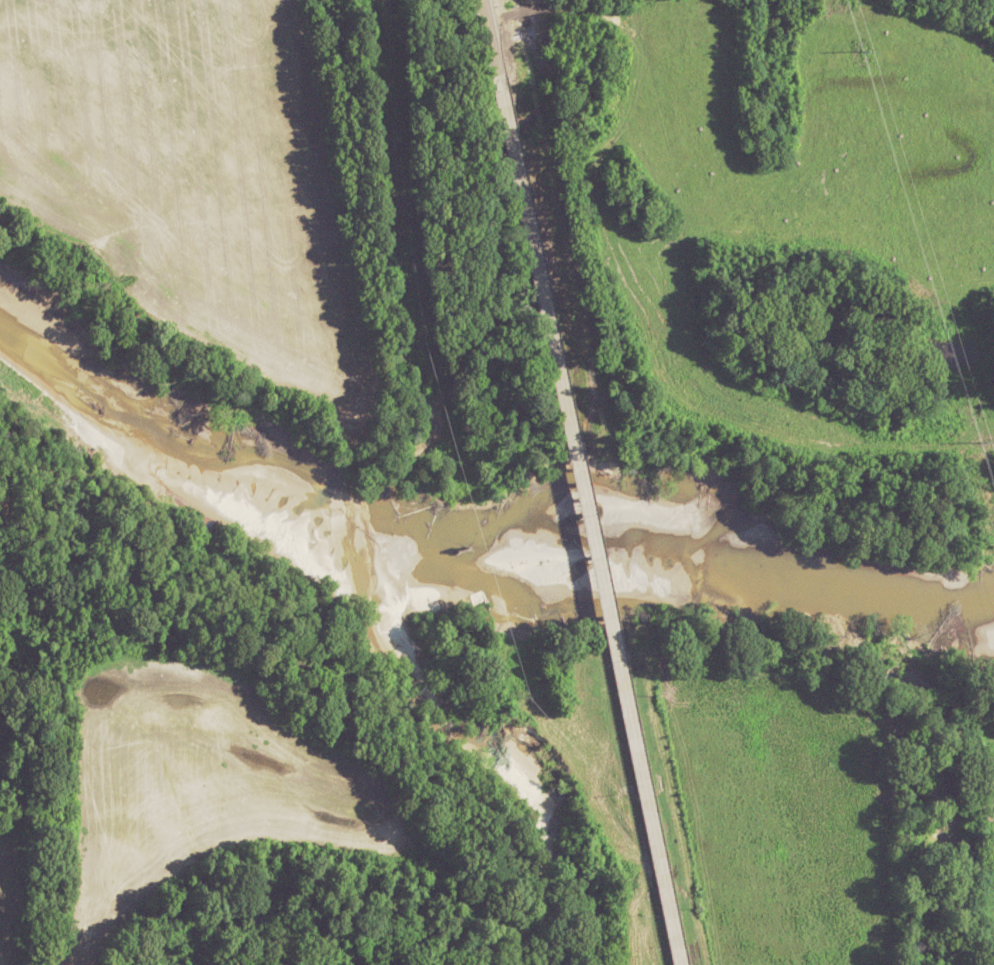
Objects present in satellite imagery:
road: (491, 37)
power tower: (865, 50)
power tower: (982, 442)
road: (590, 520)
river: (469, 549)
building: (676, 935)

